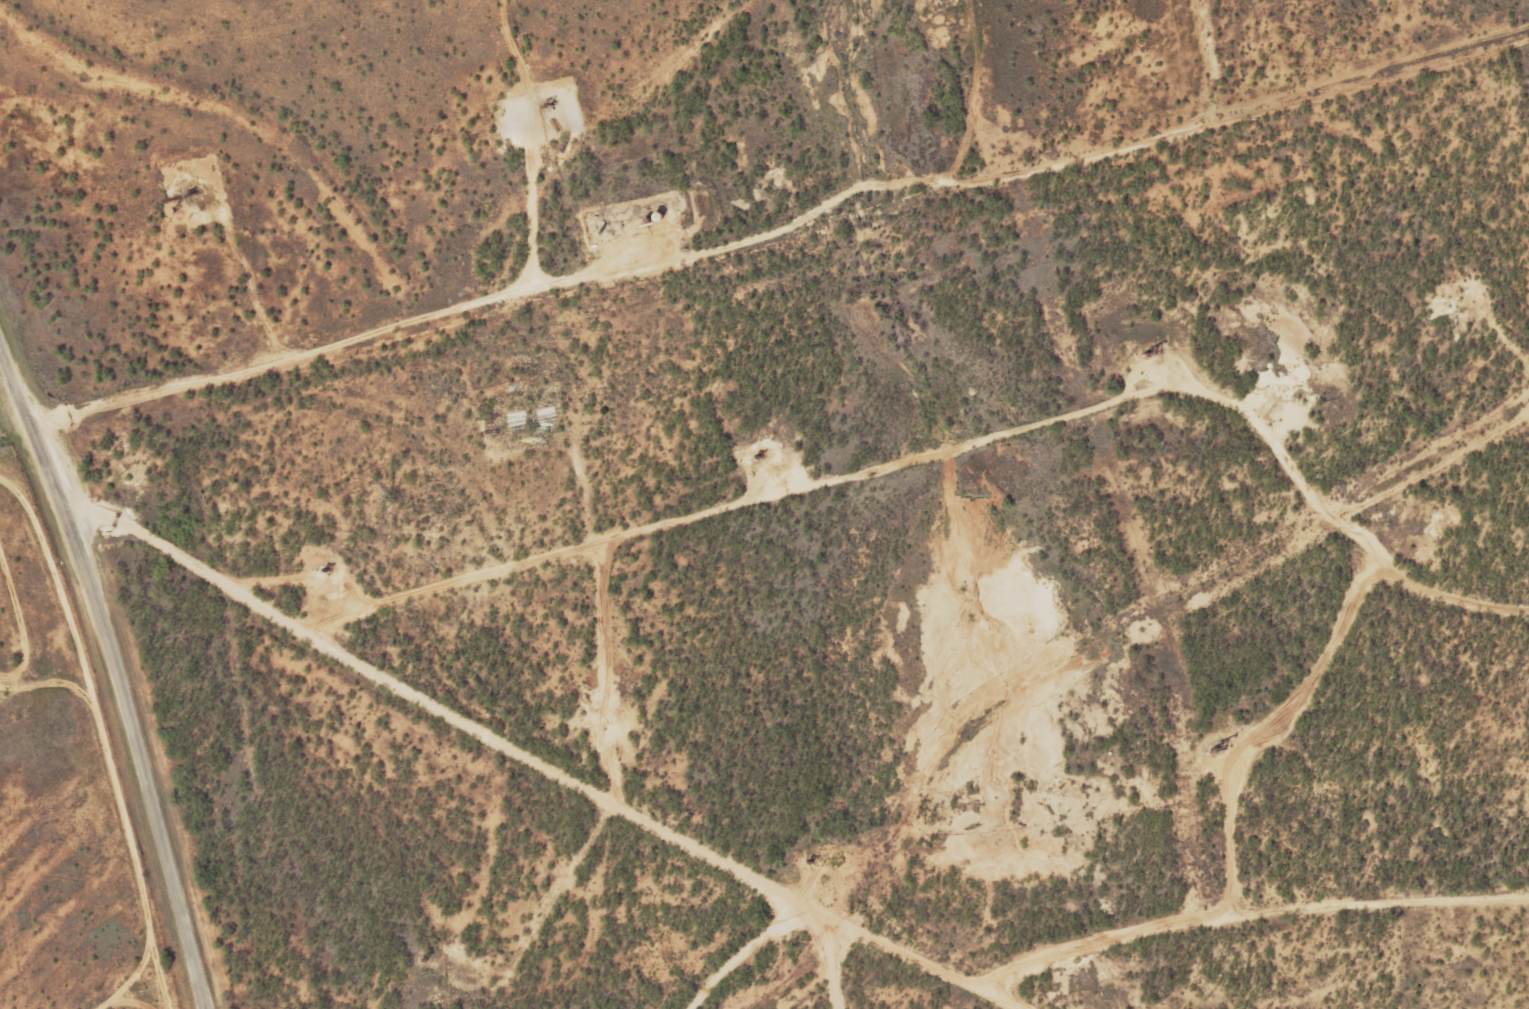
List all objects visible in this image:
road: (113, 681)
road: (479, 730)

